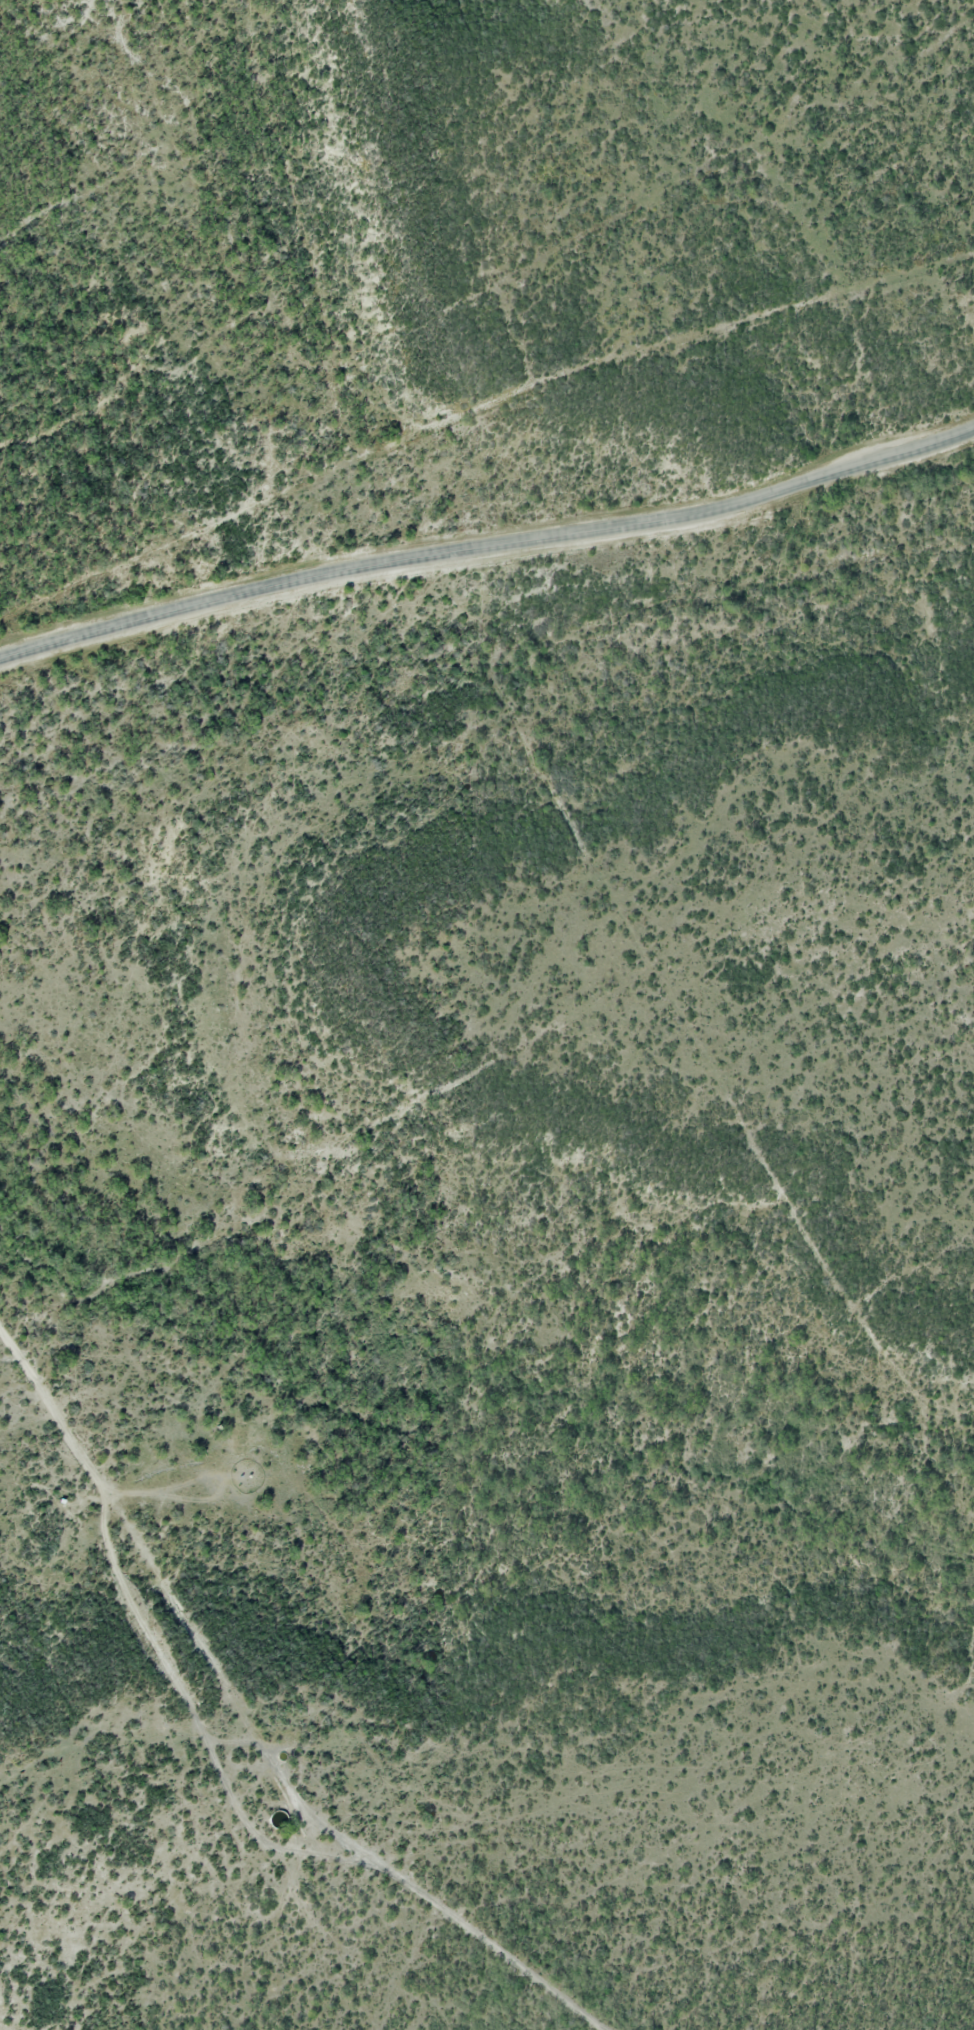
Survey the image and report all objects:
road: (488, 549)

